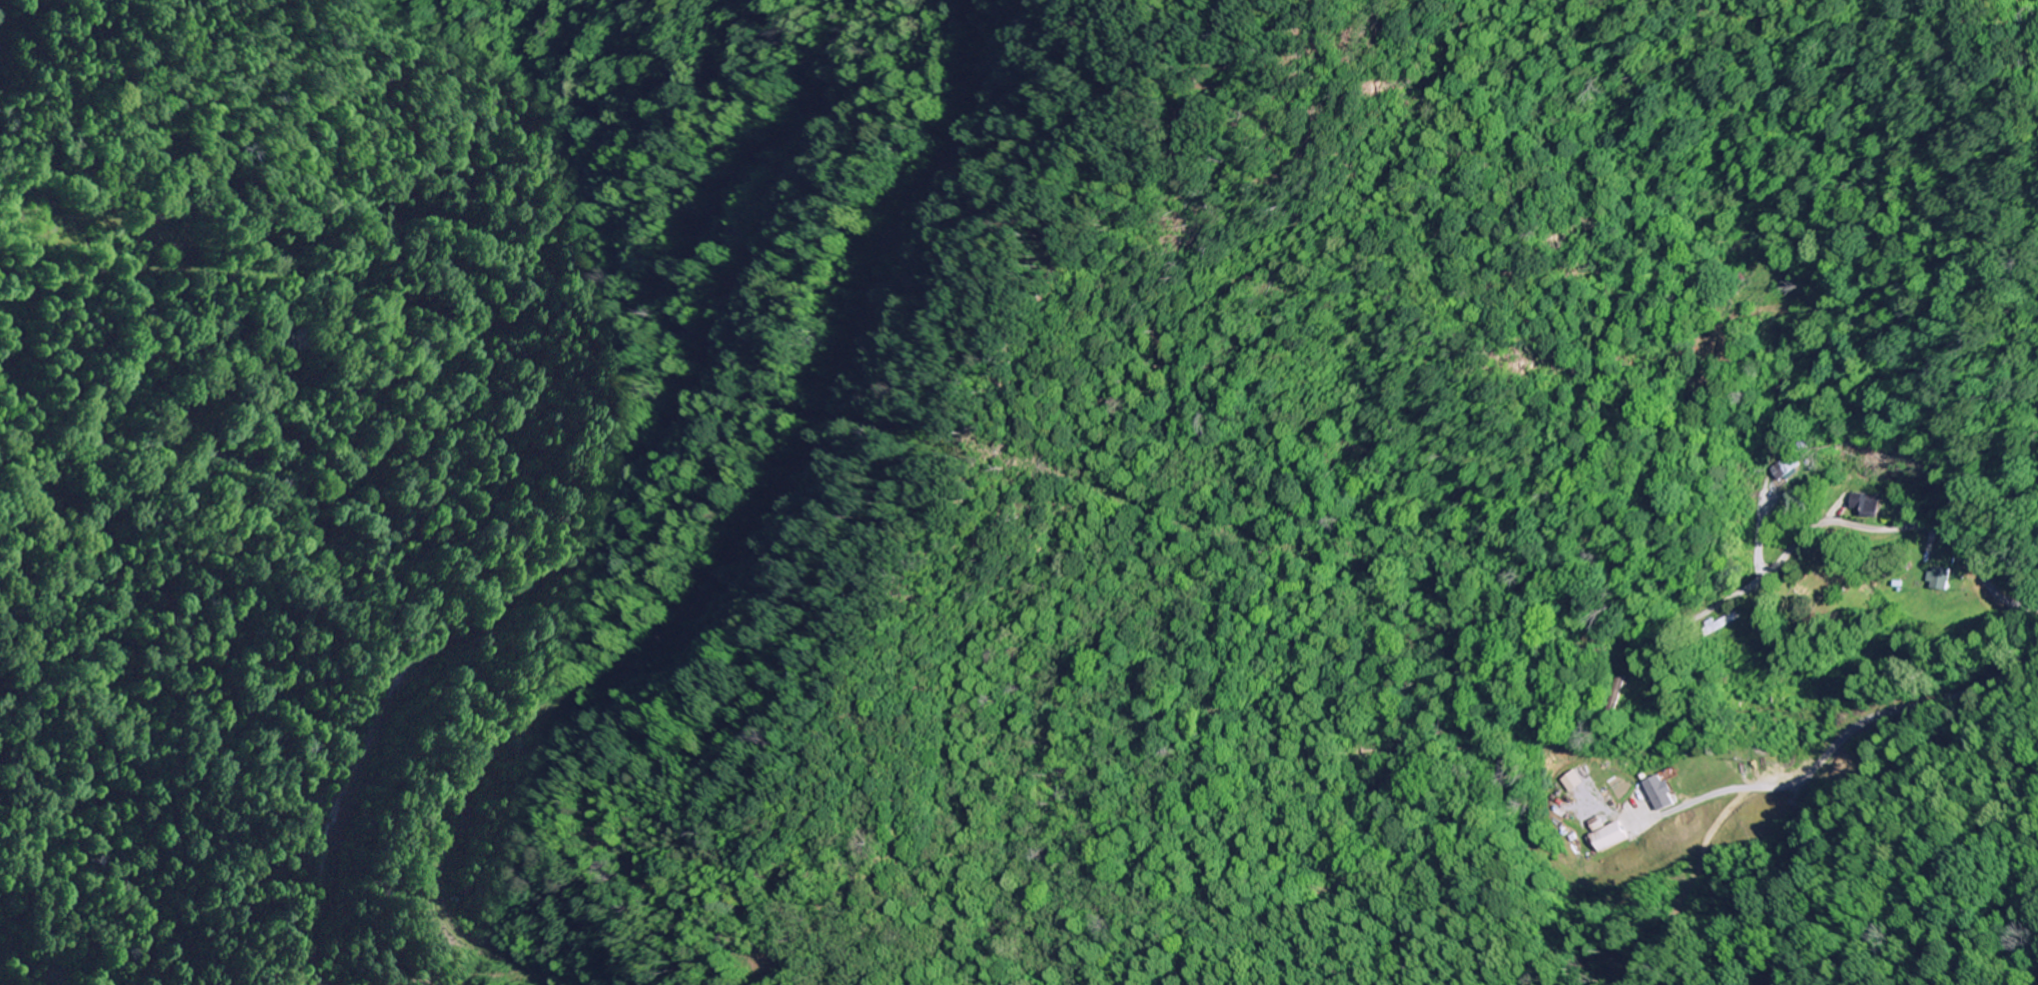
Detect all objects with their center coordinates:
building: (1785, 466)
building: (1867, 504)
road: (1918, 527)
building: (1939, 579)
building: (1721, 624)
building: (1658, 793)
building: (1607, 838)

